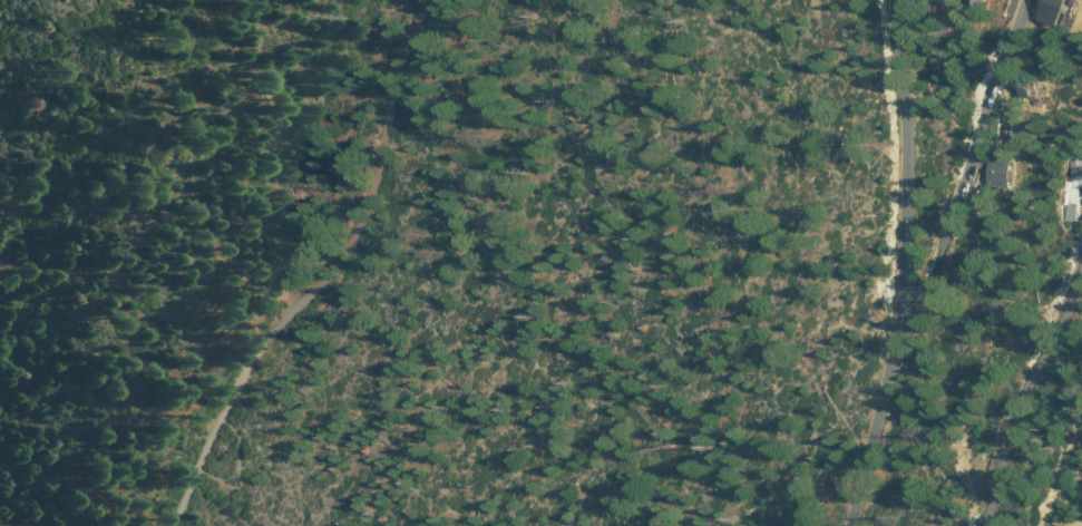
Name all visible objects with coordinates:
building: (972, 3)
building: (1061, 11)
road: (968, 166)
road: (903, 265)
road: (322, 276)
road: (114, 361)
road: (1023, 392)

